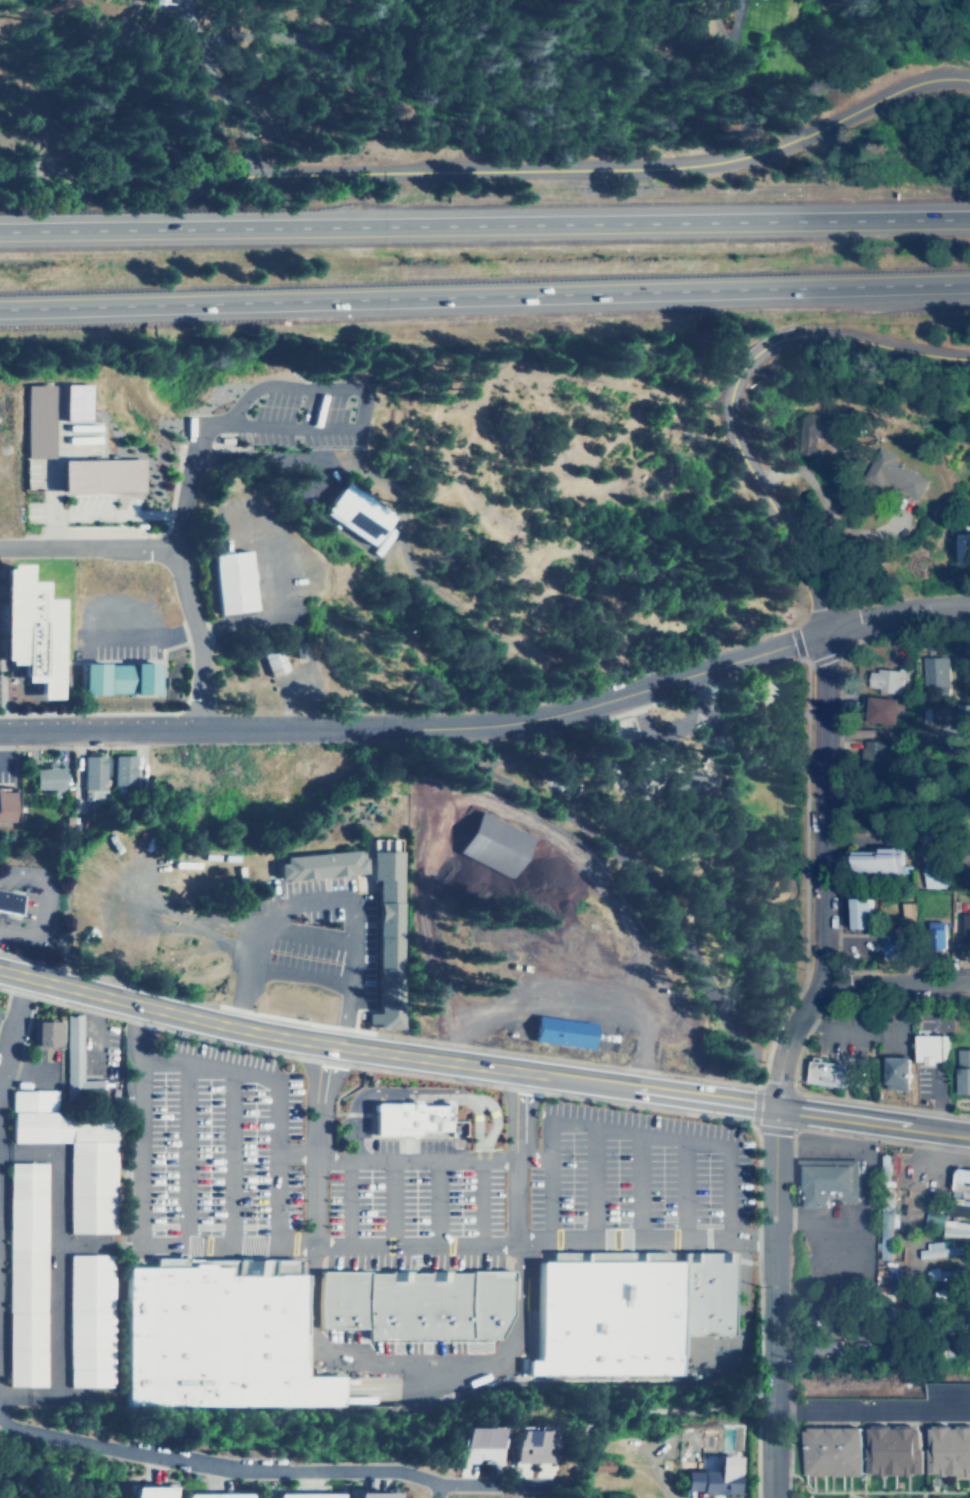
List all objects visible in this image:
building: (161, 1)
park: (892, 9)
park: (550, 67)
road: (737, 76)
road: (493, 170)
road: (484, 222)
road: (484, 294)
road: (722, 387)
building: (68, 405)
road: (358, 417)
building: (30, 422)
parking lot: (300, 424)
building: (820, 429)
building: (224, 441)
building: (889, 470)
pier: (836, 475)
building: (94, 477)
road: (184, 490)
road: (822, 506)
building: (355, 513)
park: (567, 525)
building: (960, 548)
road: (172, 557)
building: (226, 583)
building: (25, 634)
road: (133, 637)
parking lot: (116, 644)
building: (965, 648)
building: (270, 659)
building: (932, 670)
building: (141, 678)
building: (885, 678)
building: (90, 679)
road: (589, 704)
building: (882, 709)
building: (964, 719)
building: (782, 723)
road: (99, 730)
building: (876, 754)
building: (124, 770)
building: (94, 772)
building: (49, 779)
building: (688, 786)
building: (6, 805)
road: (823, 806)
road: (703, 828)
park: (691, 837)
building: (491, 844)
building: (968, 858)
building: (381, 860)
building: (878, 860)
building: (316, 863)
road: (632, 870)
building: (935, 877)
building: (5, 901)
road: (45, 906)
building: (908, 911)
building: (861, 913)
building: (936, 934)
building: (965, 934)
building: (890, 944)
building: (383, 972)
road: (895, 979)
road: (12, 1028)
building: (556, 1029)
road: (785, 1038)
building: (926, 1046)
building: (62, 1047)
road: (482, 1065)
building: (962, 1069)
building: (822, 1072)
building: (891, 1072)
road: (410, 1089)
road: (274, 1091)
building: (402, 1119)
road: (620, 1130)
road: (313, 1145)
road: (185, 1152)
building: (70, 1155)
road: (514, 1157)
road: (930, 1157)
road: (230, 1158)
road: (409, 1159)
building: (883, 1163)
building: (959, 1177)
building: (823, 1182)
road: (592, 1184)
road: (638, 1187)
road: (682, 1190)
road: (344, 1203)
road: (390, 1203)
road: (436, 1203)
road: (480, 1203)
building: (955, 1229)
building: (887, 1235)
road: (334, 1247)
building: (940, 1249)
road: (905, 1273)
building: (24, 1274)
building: (946, 1274)
road: (772, 1302)
building: (417, 1304)
building: (625, 1311)
building: (89, 1320)
building: (218, 1340)
road: (635, 1409)
building: (478, 1445)
building: (532, 1445)
building: (945, 1449)
building: (886, 1450)
building: (825, 1455)
road: (266, 1470)
building: (704, 1480)
building: (146, 1491)
building: (213, 1495)
building: (303, 1495)
building: (373, 1495)

